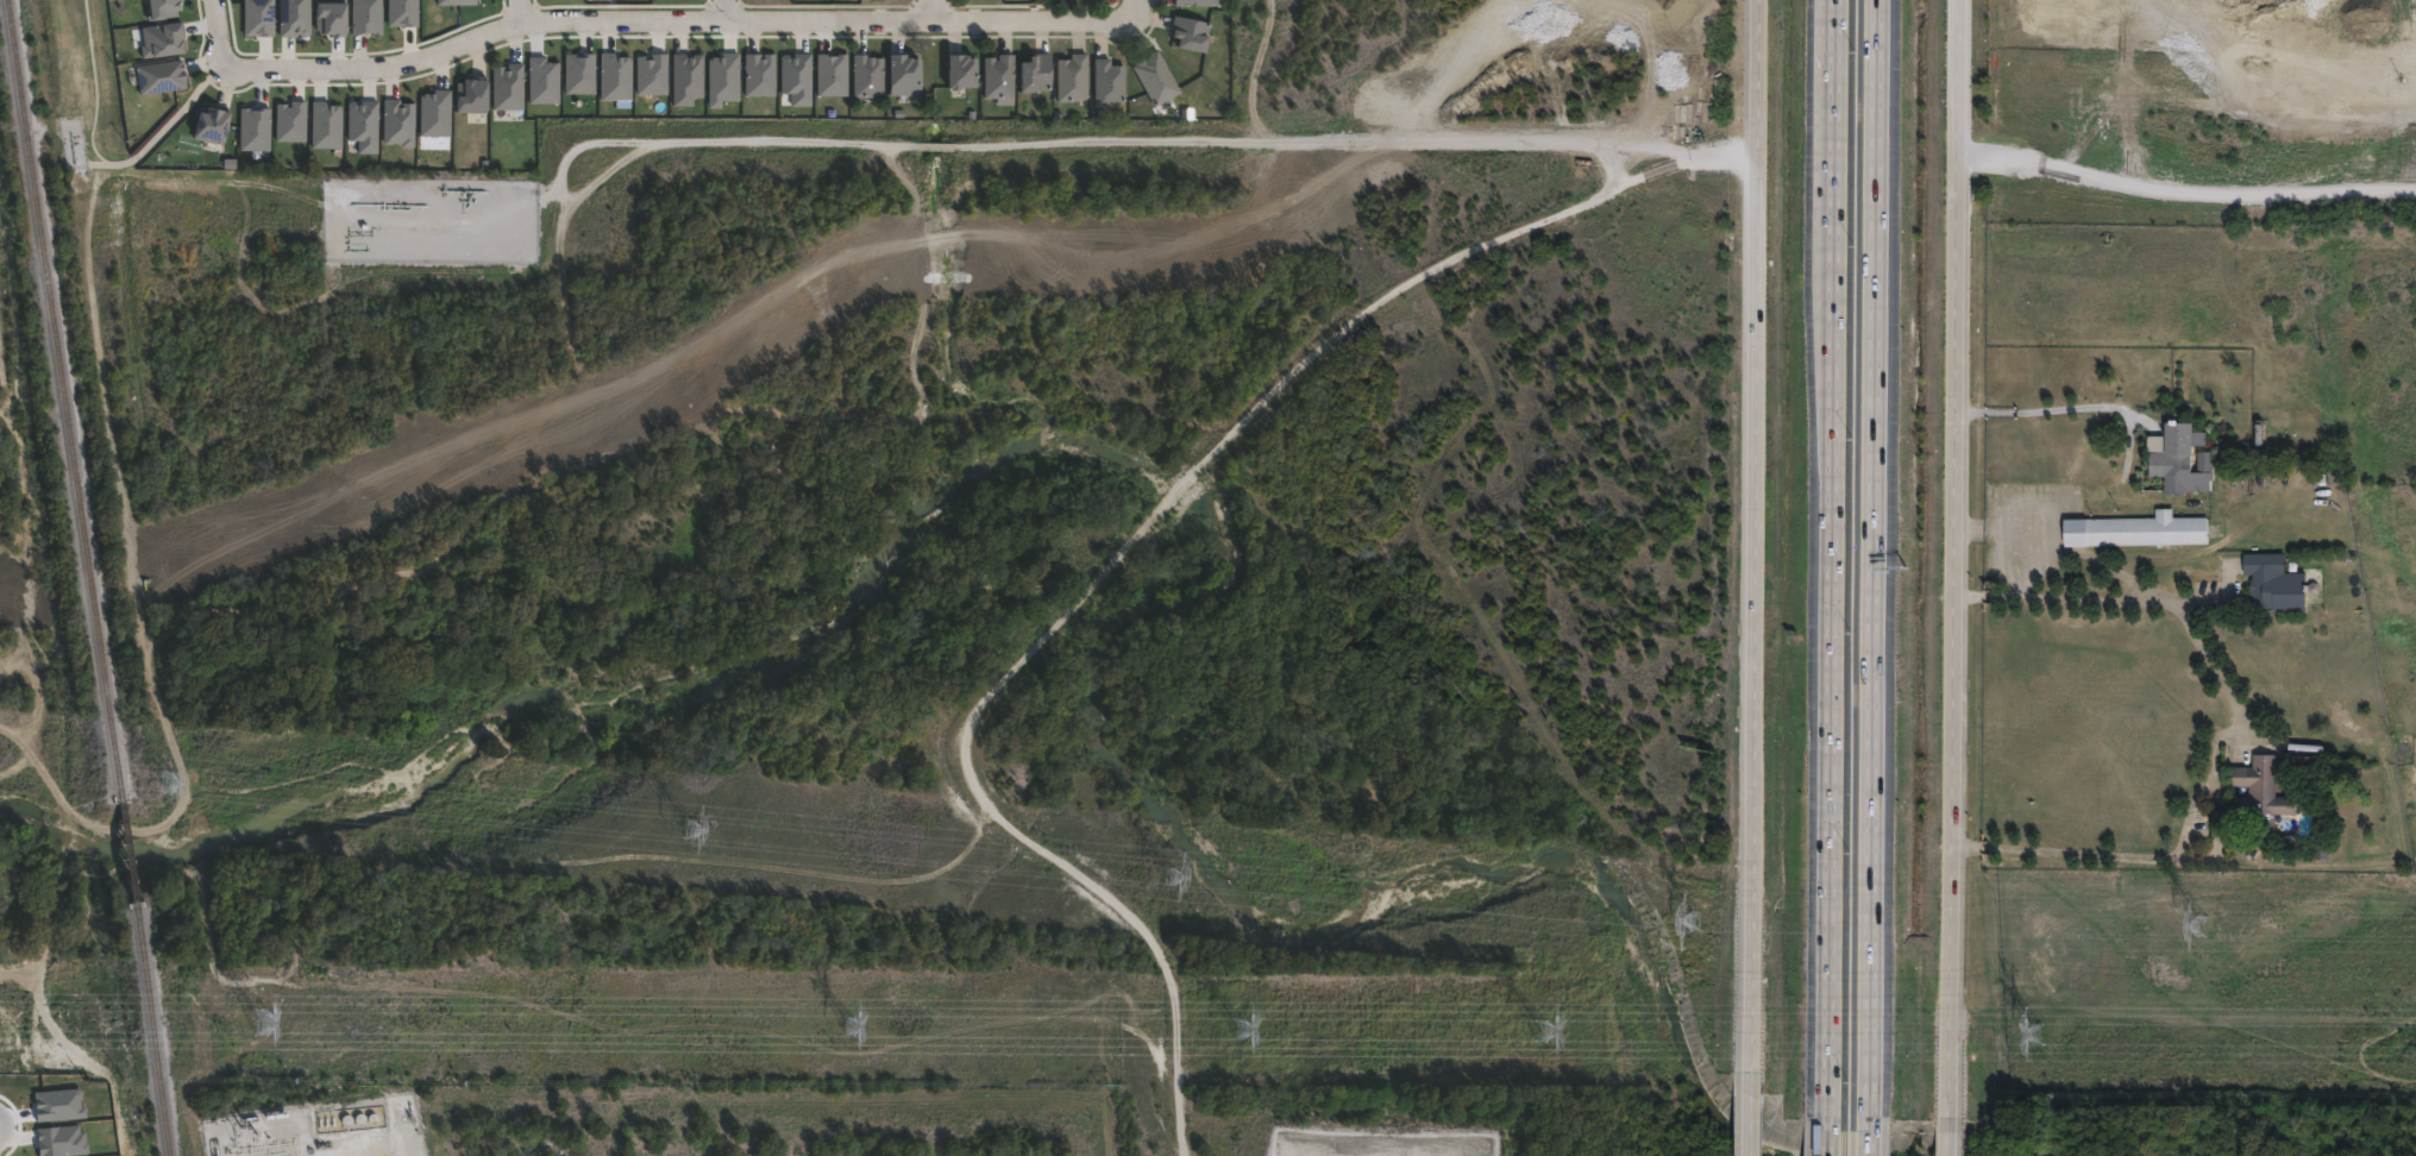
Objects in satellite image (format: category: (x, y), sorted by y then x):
building: (452, 2)
building: (1197, 2)
road: (1131, 7)
building: (161, 8)
road: (722, 11)
road: (929, 11)
road: (519, 12)
building: (399, 15)
building: (360, 18)
building: (252, 20)
building: (288, 21)
road: (673, 23)
building: (324, 25)
road: (214, 32)
building: (1192, 33)
building: (163, 38)
building: (961, 70)
building: (1036, 73)
building: (161, 76)
building: (868, 76)
building: (904, 76)
building: (575, 77)
building: (1000, 78)
building: (1072, 78)
building: (1157, 78)
building: (645, 80)
building: (683, 80)
building: (789, 80)
building: (827, 80)
building: (608, 81)
road: (93, 82)
building: (717, 82)
building: (753, 82)
building: (1109, 82)
building: (539, 83)
building: (508, 88)
building: (472, 95)
building: (429, 118)
building: (212, 124)
building: (285, 126)
building: (320, 130)
building: (393, 132)
building: (357, 133)
building: (249, 138)
road: (1637, 142)
road: (666, 143)
road: (1297, 143)
road: (935, 146)
road: (2186, 193)
railway: (67, 398)
road: (2057, 407)
building: (2177, 451)
building: (2141, 532)
road: (1752, 535)
road: (1125, 545)
road: (1832, 558)
road: (1874, 558)
road: (1959, 558)
building: (2279, 585)
road: (2244, 729)
power tower: (168, 785)
building: (2258, 802)
power tower: (695, 833)
building: (2322, 837)
railway: (130, 849)
power tower: (1172, 881)
power tower: (1699, 924)
power tower: (2203, 929)
power tower: (269, 1020)
power tower: (855, 1025)
railway: (153, 1028)
power tower: (1245, 1028)
power tower: (1544, 1031)
power tower: (2037, 1035)
road: (1752, 1114)
road: (1830, 1136)
road: (1870, 1136)
road: (1950, 1136)

